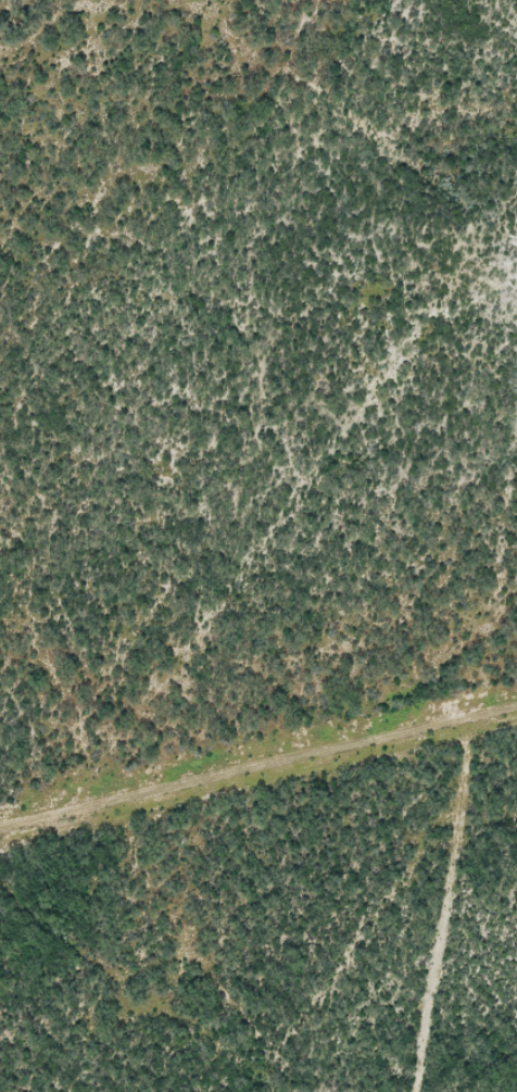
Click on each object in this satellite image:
road: (257, 702)

